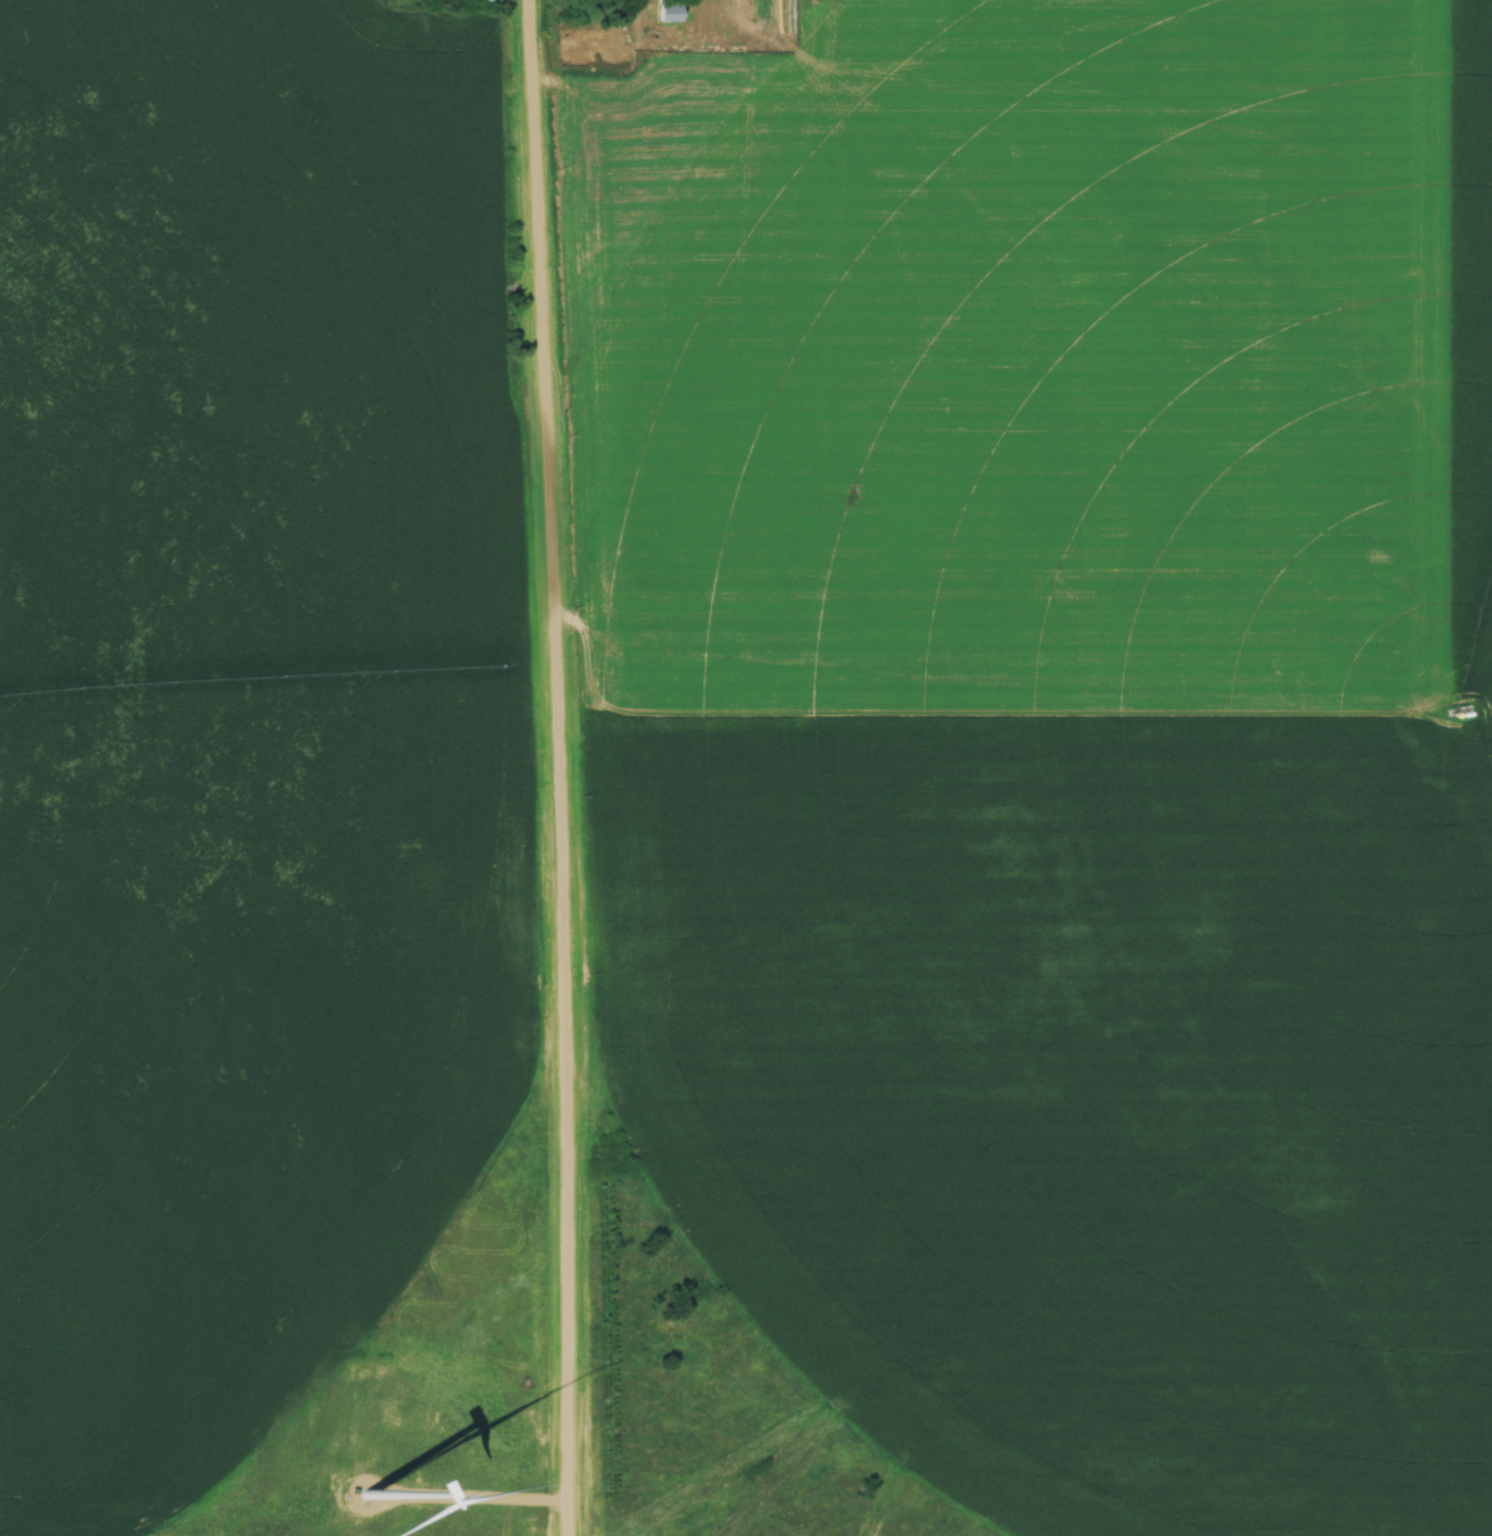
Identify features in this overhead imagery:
road: (562, 767)
wind turbine: (365, 1494)

